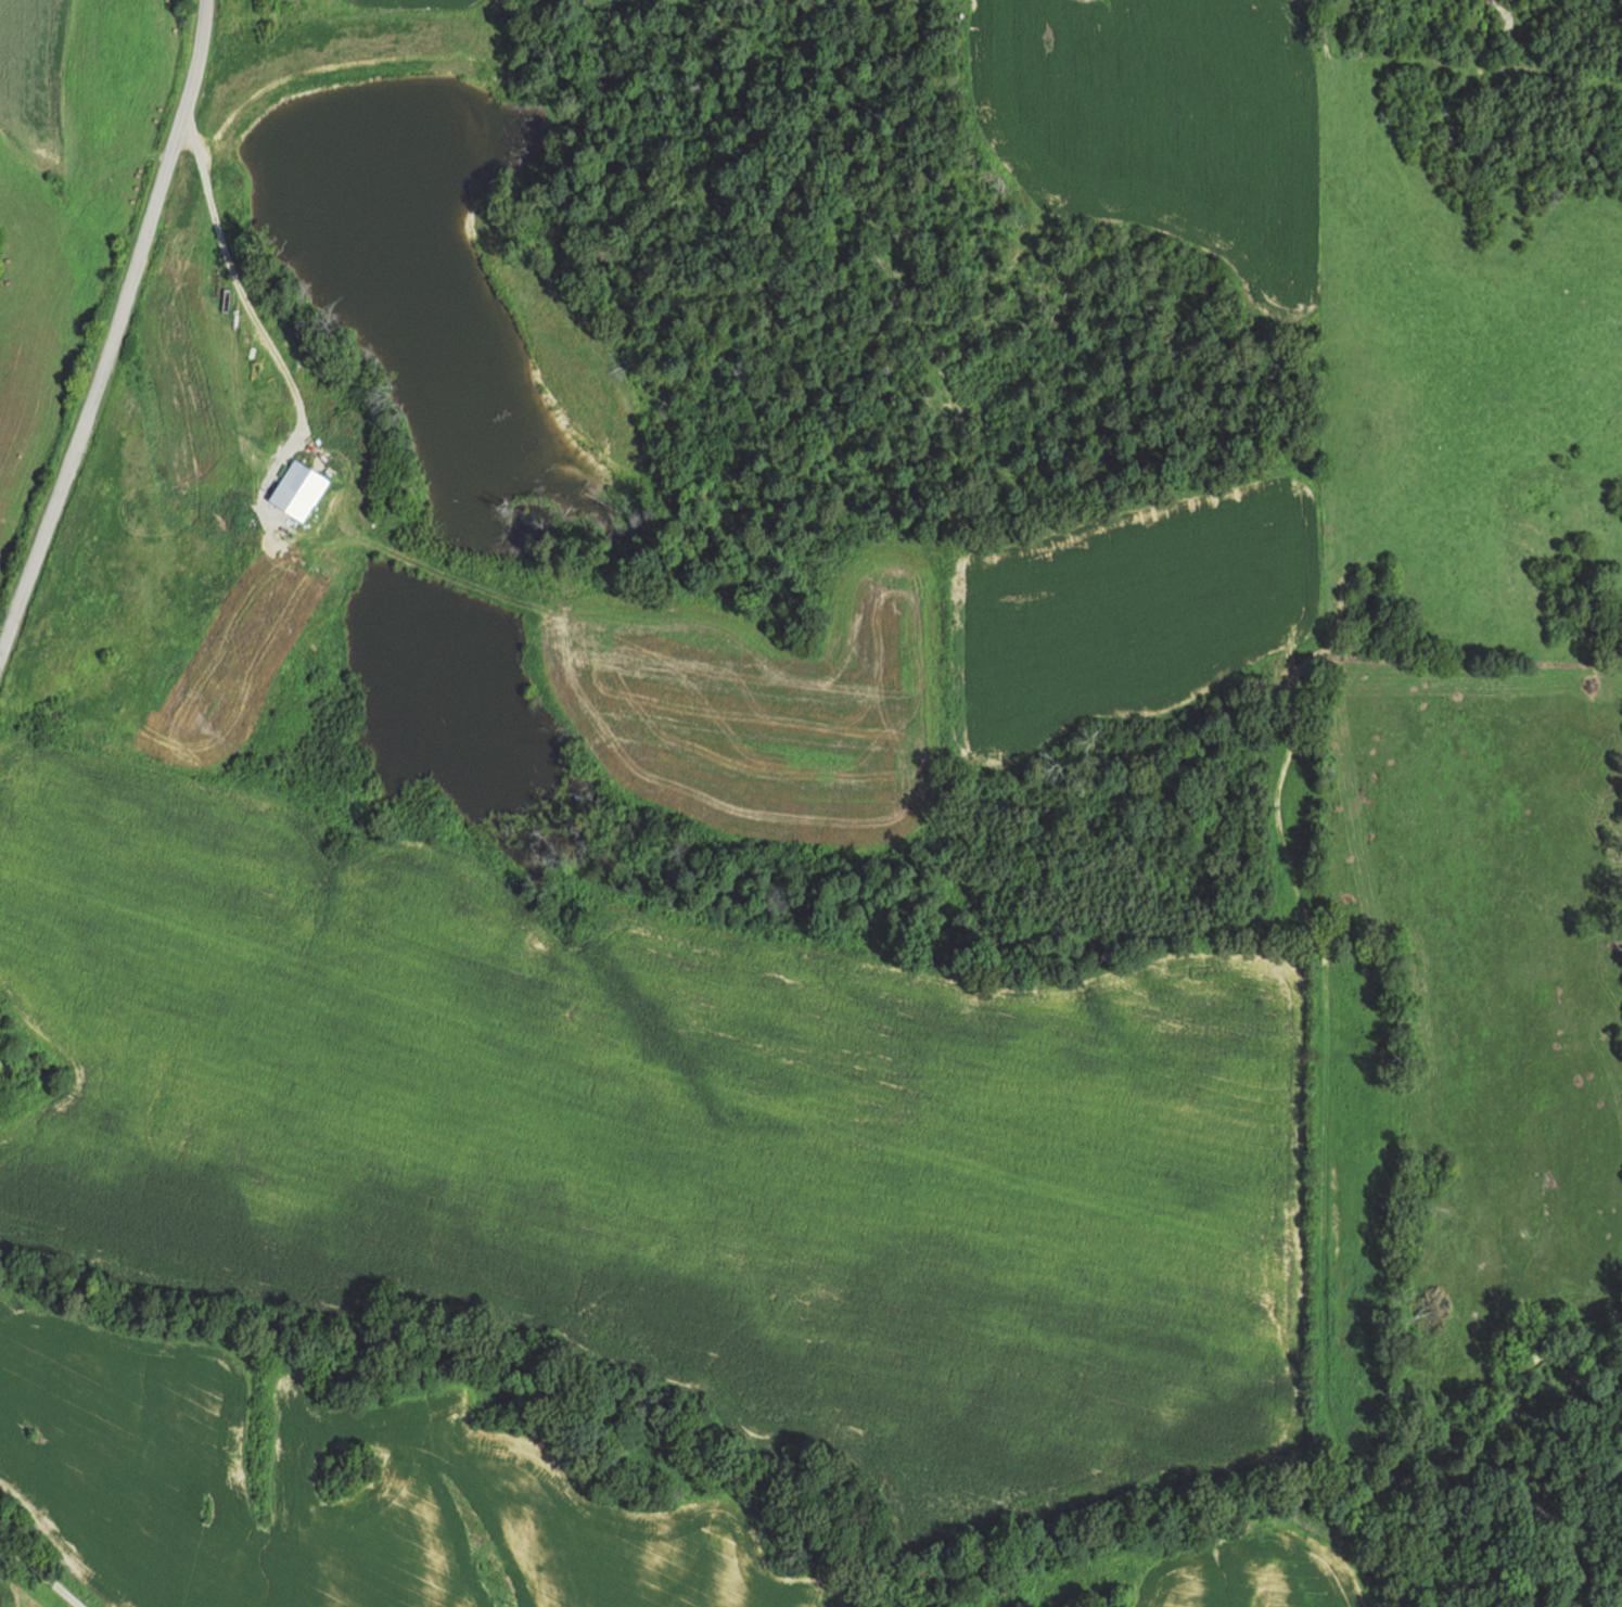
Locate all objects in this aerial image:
building: (217, 229)
road: (105, 331)
building: (302, 482)
road: (12, 1595)

